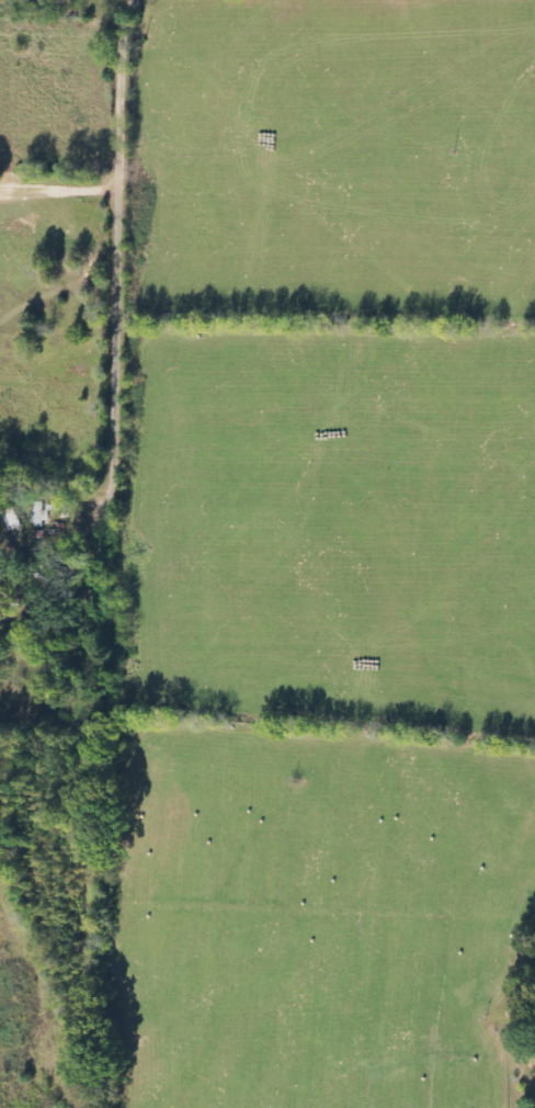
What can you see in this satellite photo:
road: (65, 186)
road: (128, 227)
building: (533, 1063)

